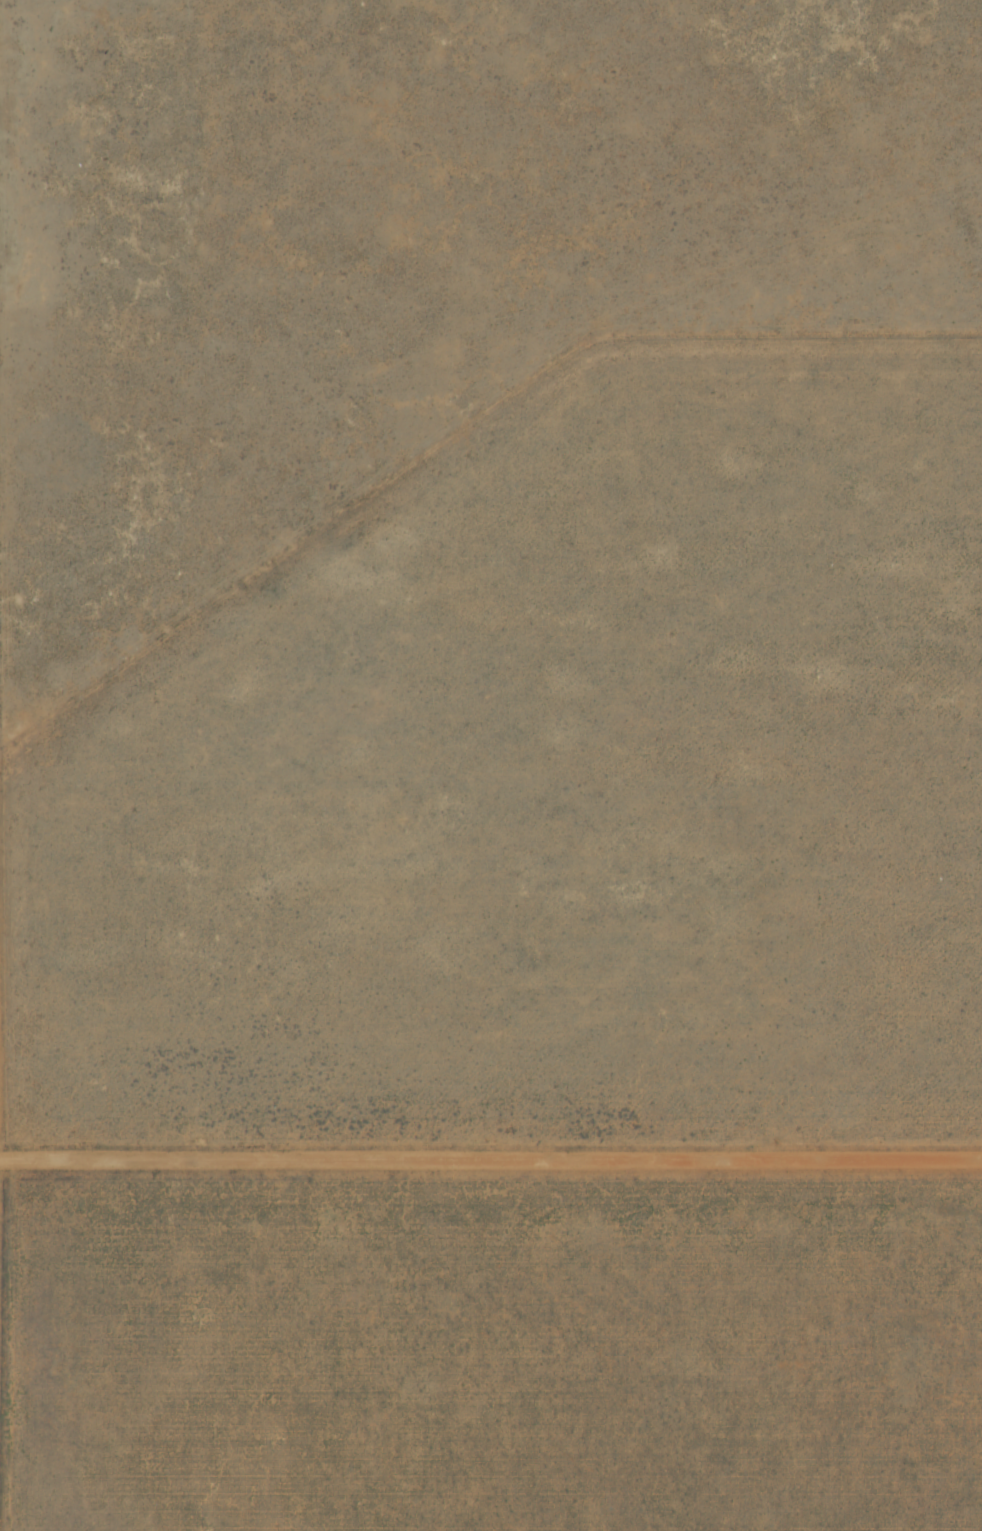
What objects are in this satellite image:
road: (491, 1164)

